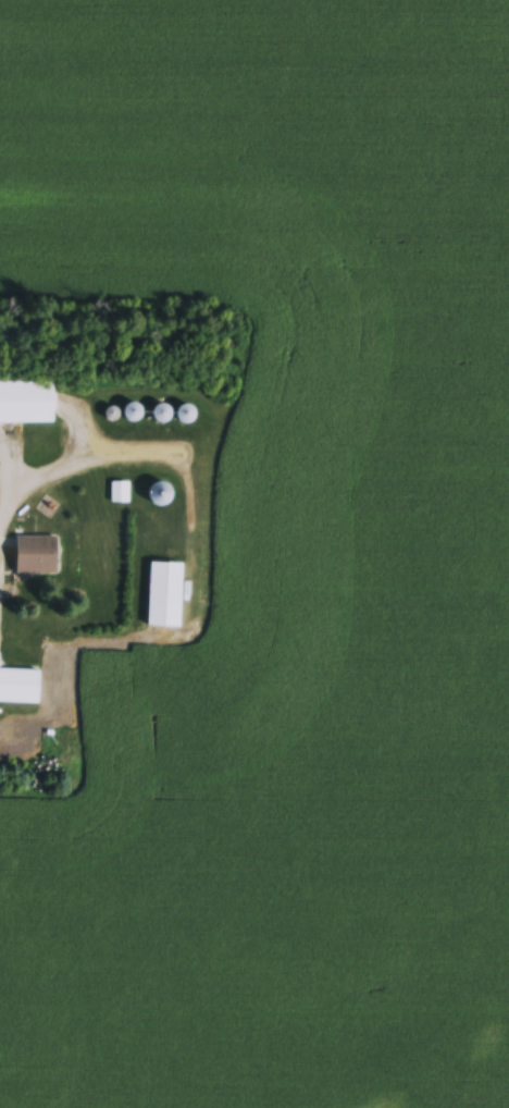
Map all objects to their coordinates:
building: (27, 405)
road: (75, 464)
building: (38, 558)
building: (165, 598)
building: (20, 689)

